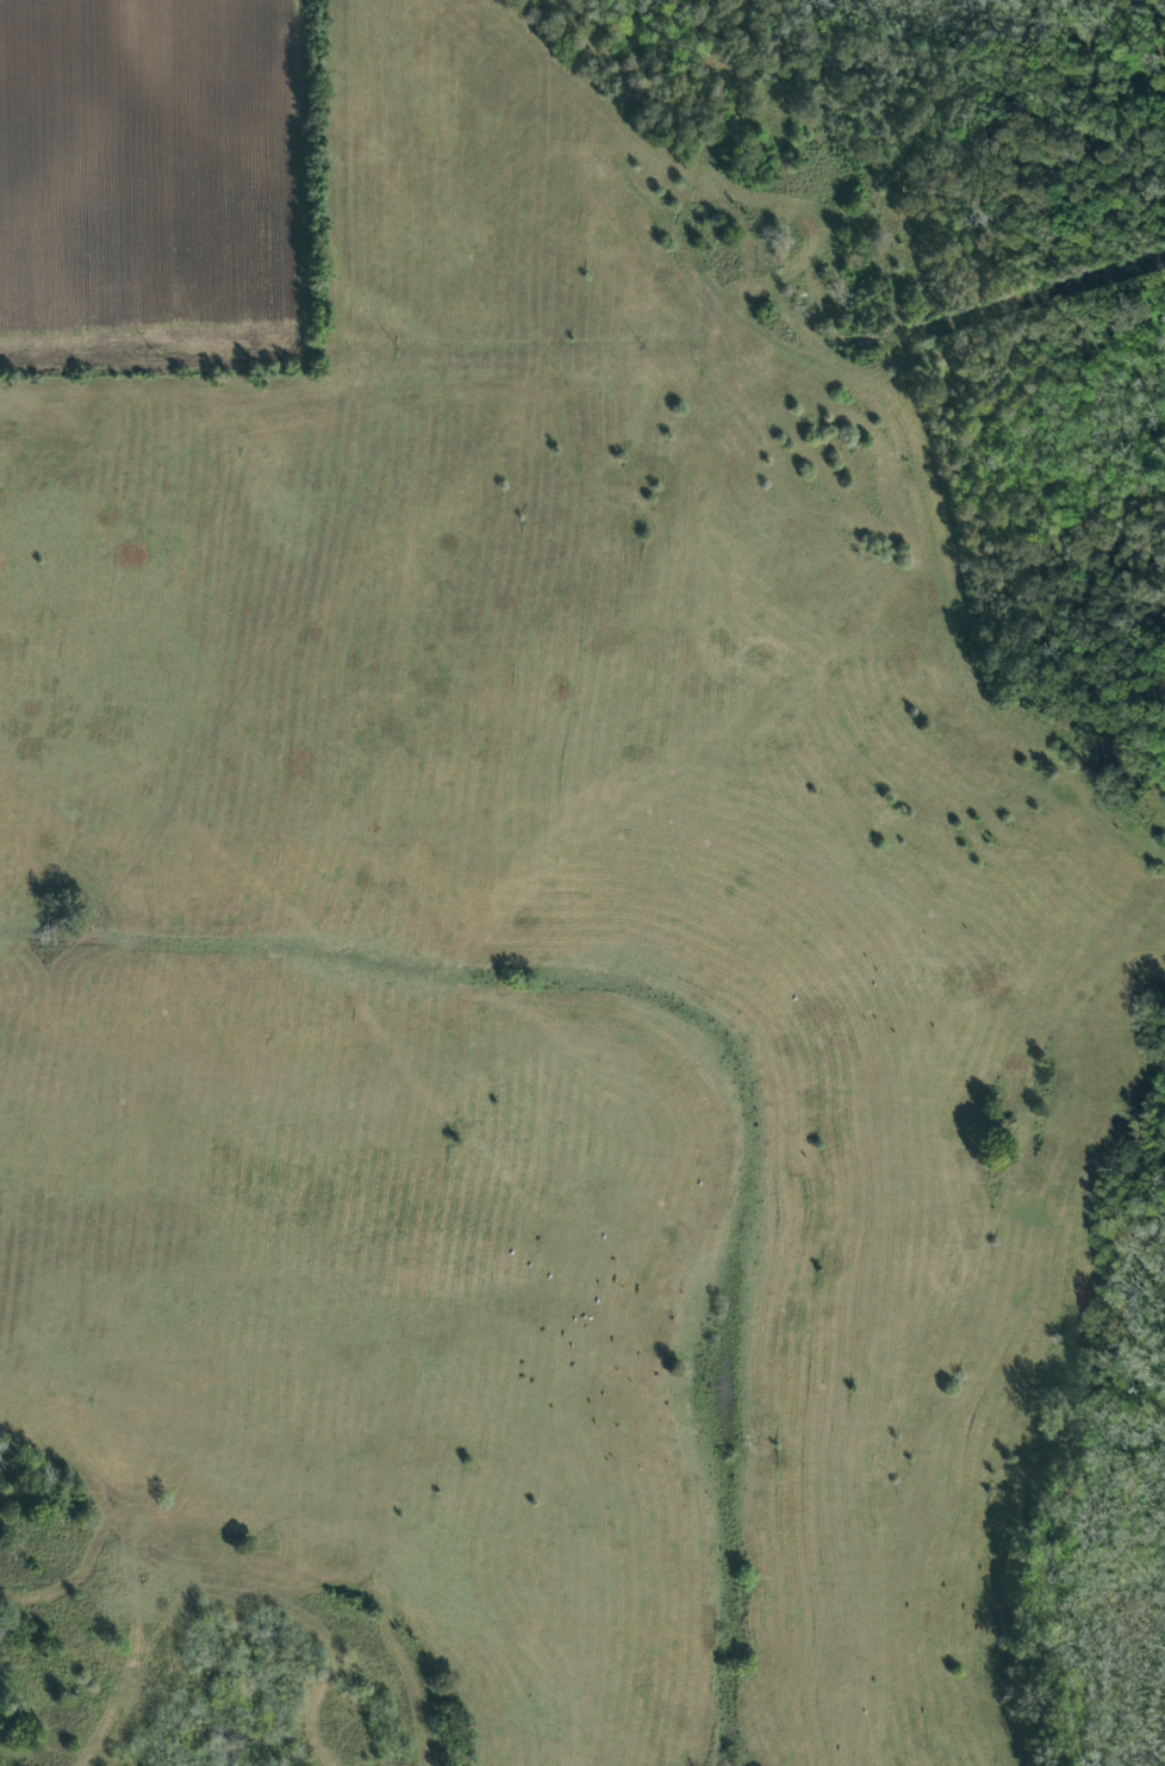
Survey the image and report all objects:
road: (435, 361)

